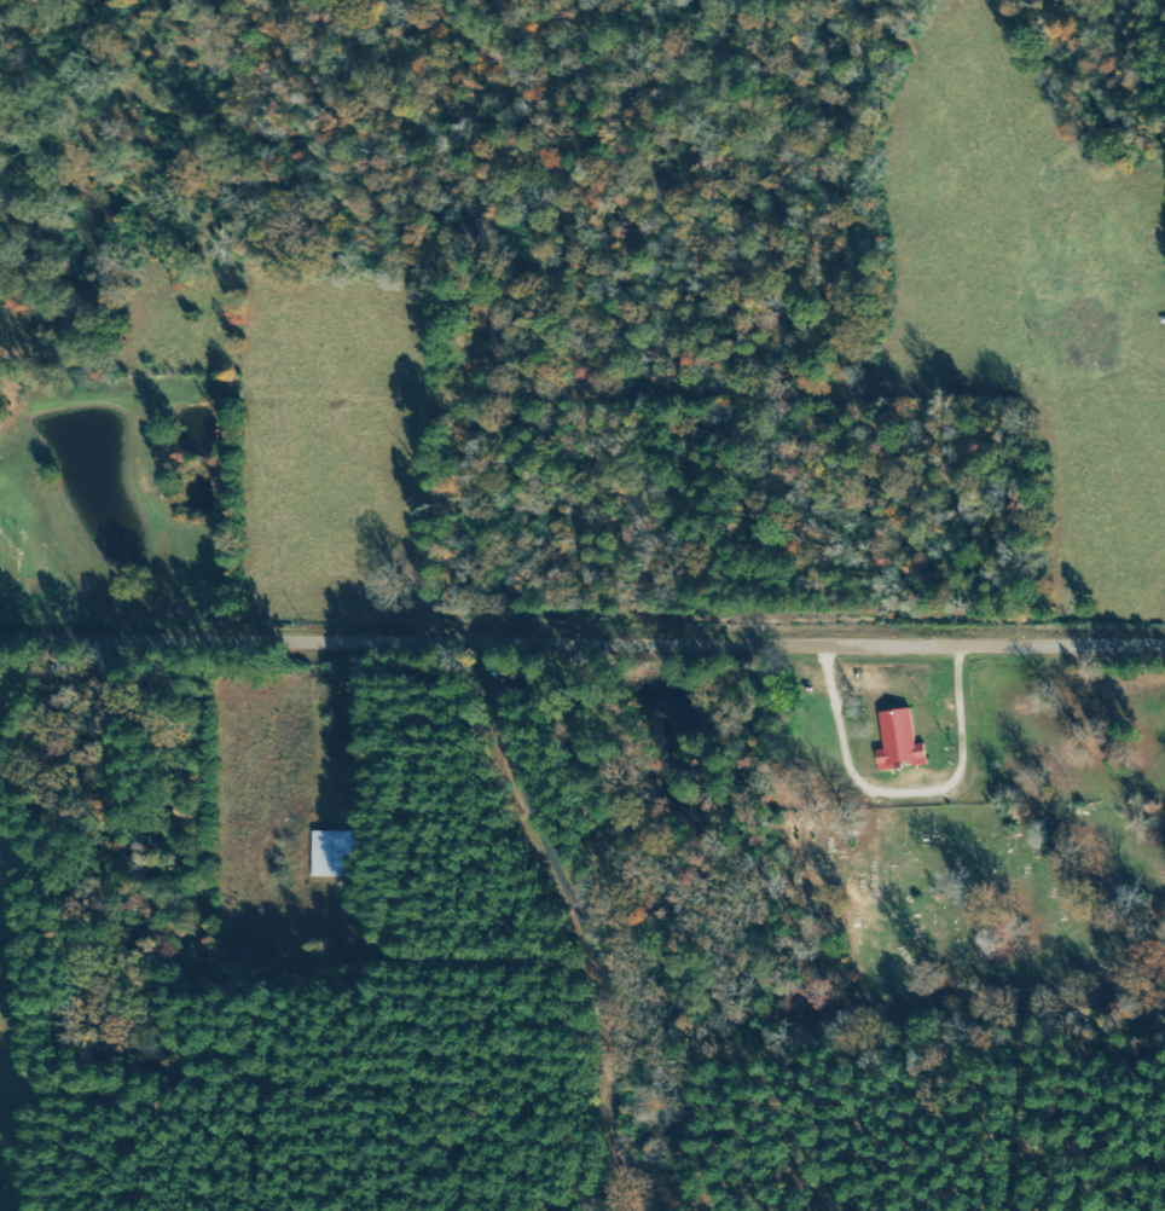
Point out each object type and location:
road: (673, 82)
road: (491, 406)
road: (582, 637)
building: (903, 741)
road: (906, 788)
building: (338, 853)
road: (560, 923)
park: (946, 929)

